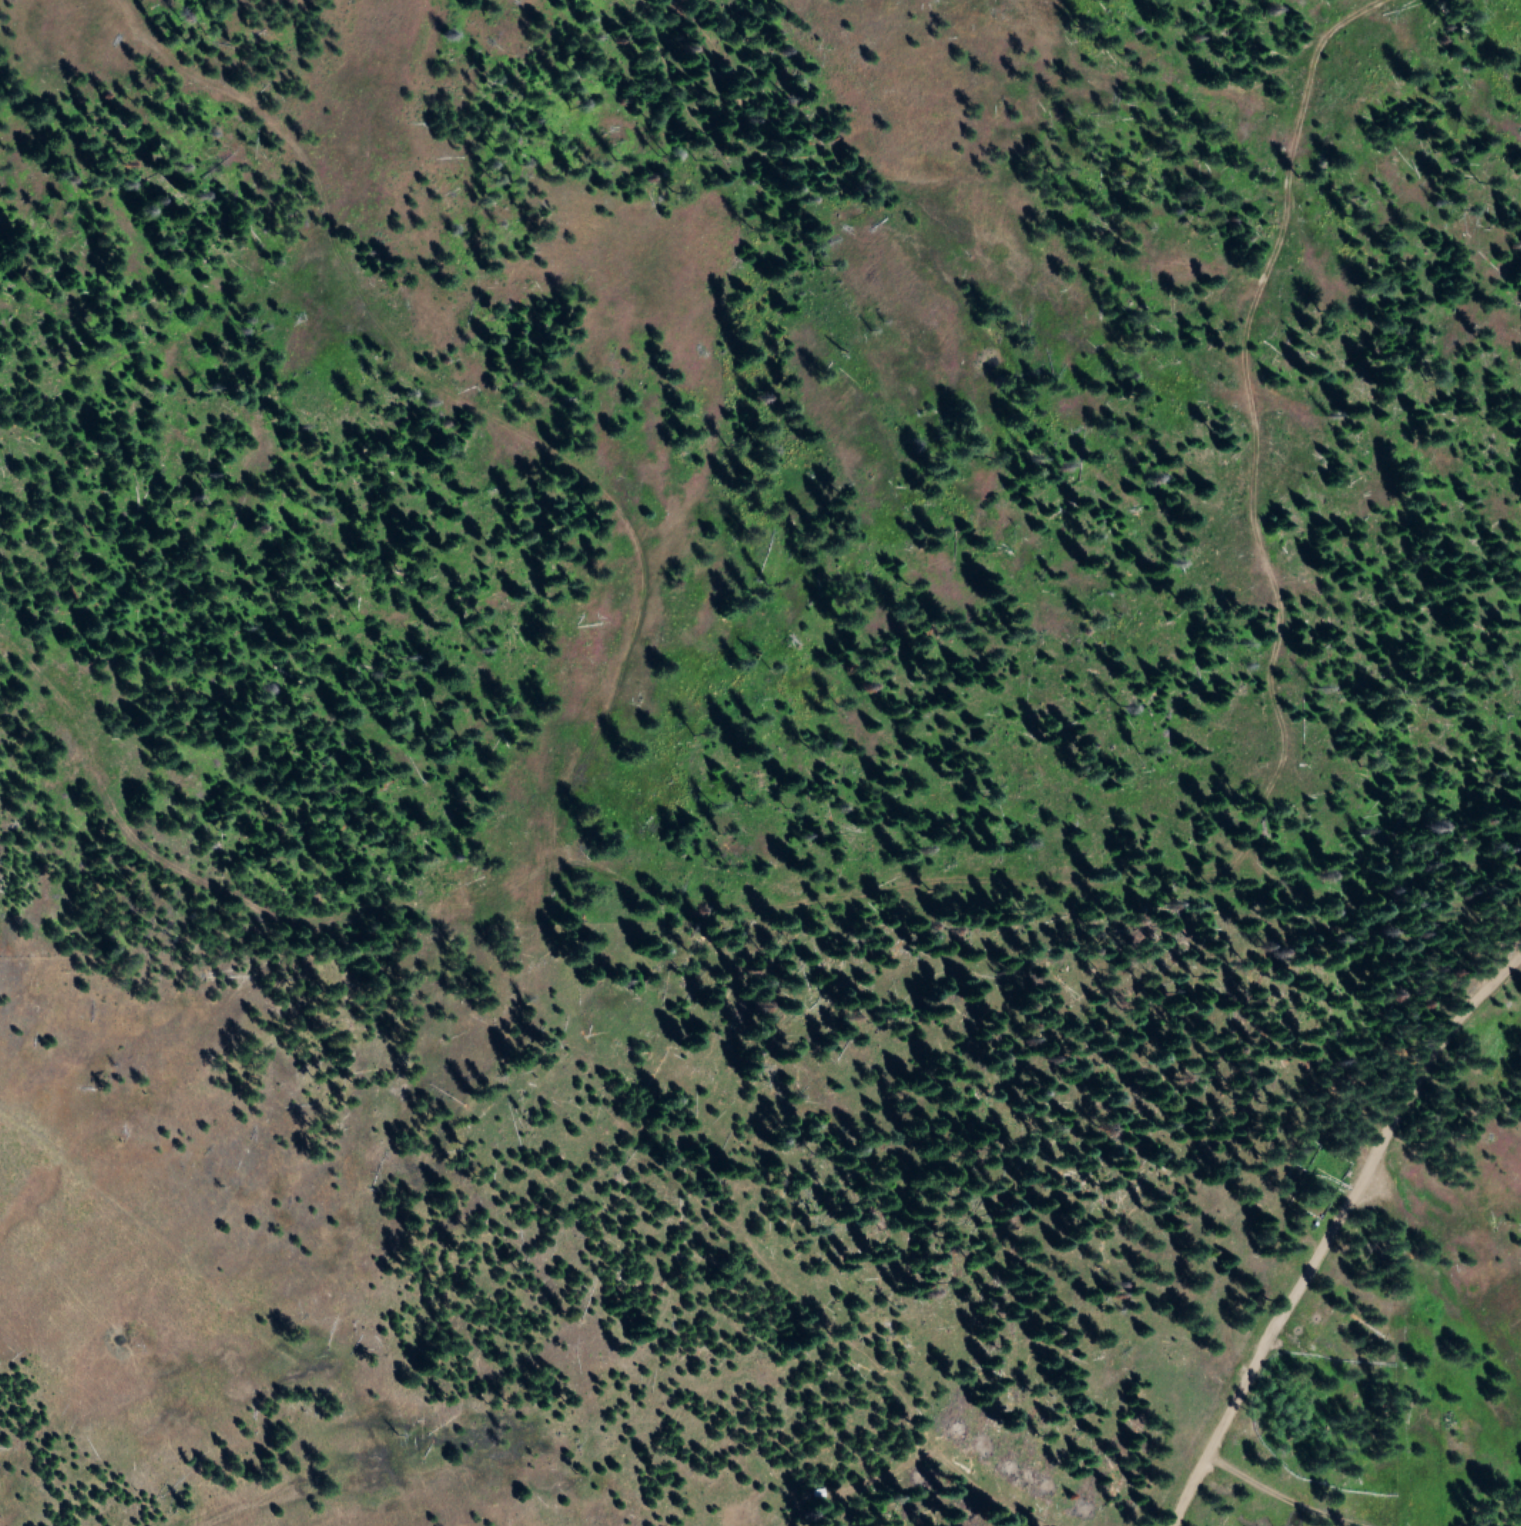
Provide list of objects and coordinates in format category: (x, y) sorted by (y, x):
road: (1386, 1313)

